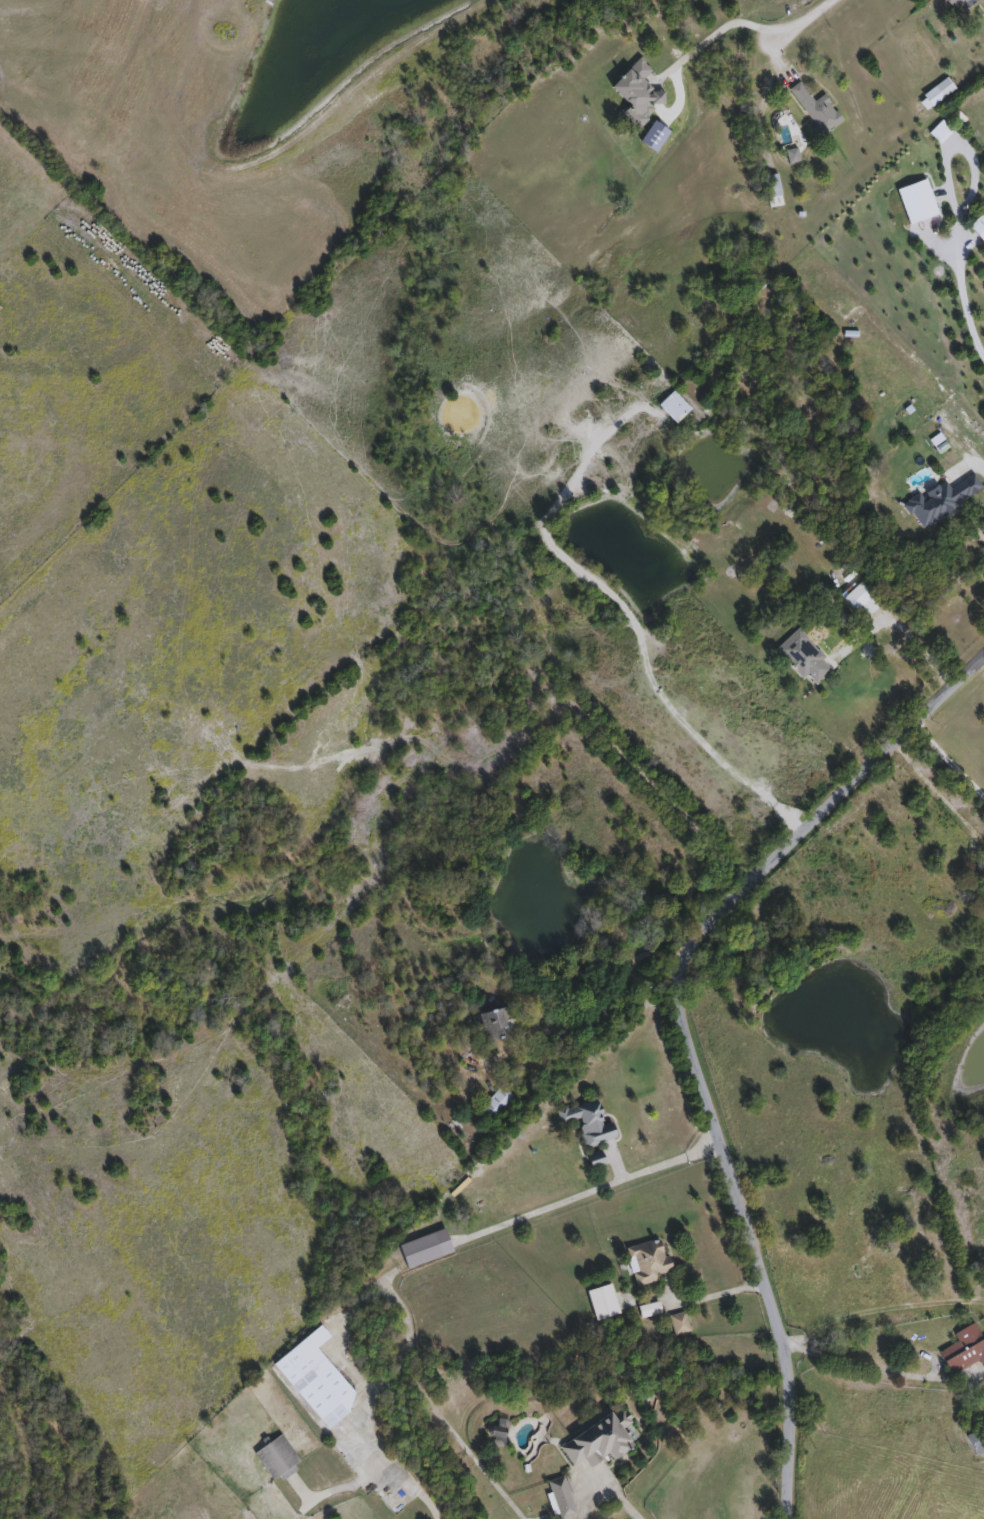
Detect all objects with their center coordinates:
building: (958, 3)
road: (799, 21)
road: (710, 37)
building: (640, 94)
building: (939, 95)
building: (819, 110)
road: (953, 147)
building: (774, 191)
building: (980, 227)
building: (936, 246)
road: (956, 295)
road: (966, 463)
building: (943, 501)
building: (863, 602)
building: (805, 658)
road: (947, 761)
road: (937, 793)
building: (500, 1026)
road: (681, 1031)
building: (499, 1103)
building: (590, 1123)
road: (670, 1159)
building: (598, 1160)
building: (649, 1263)
road: (715, 1292)
building: (605, 1303)
building: (652, 1310)
building: (682, 1325)
building: (970, 1357)
road: (857, 1360)
building: (318, 1379)
building: (602, 1441)
building: (978, 1442)
building: (279, 1459)
road: (400, 1469)
road: (606, 1492)
building: (563, 1498)

